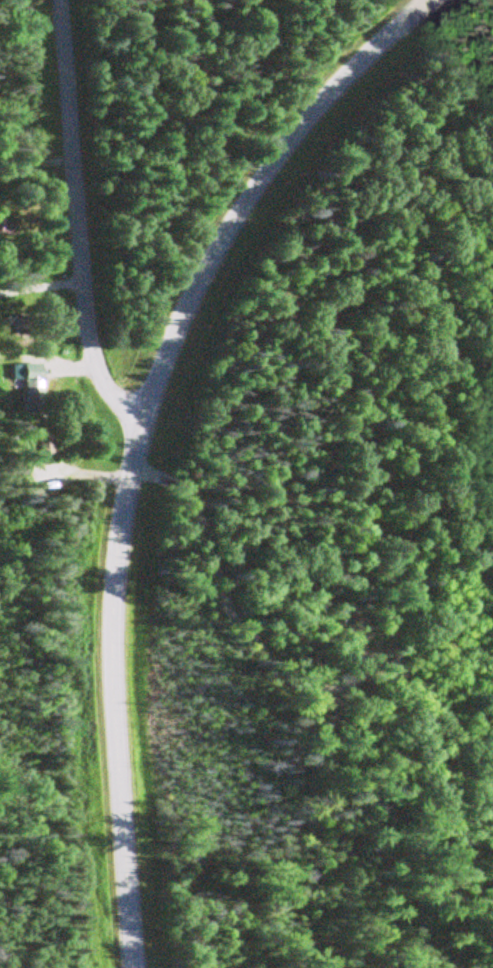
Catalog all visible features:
road: (35, 166)
road: (76, 221)
building: (0, 237)
road: (41, 287)
road: (77, 367)
building: (24, 375)
road: (137, 436)
road: (98, 476)

